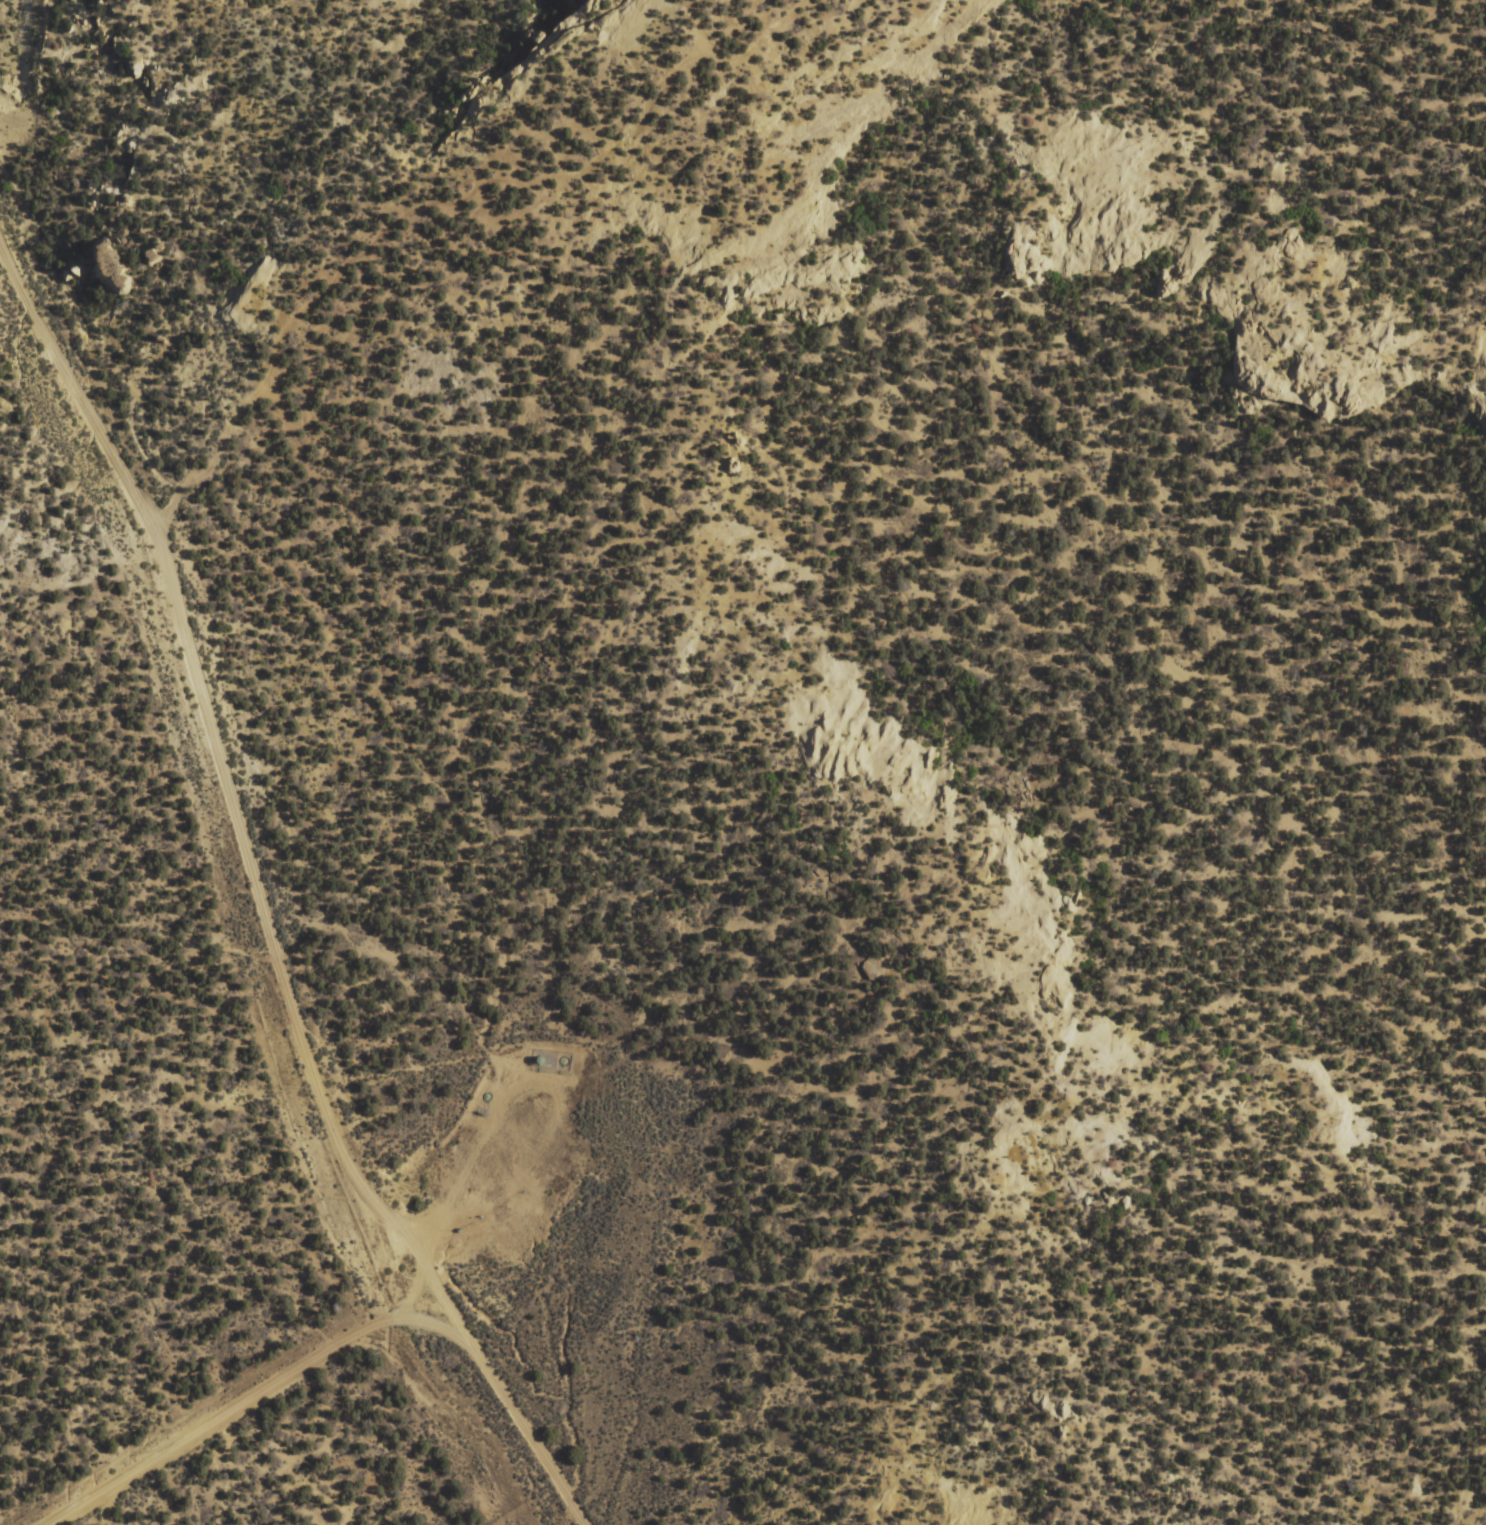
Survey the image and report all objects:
road: (235, 945)
road: (219, 1419)

